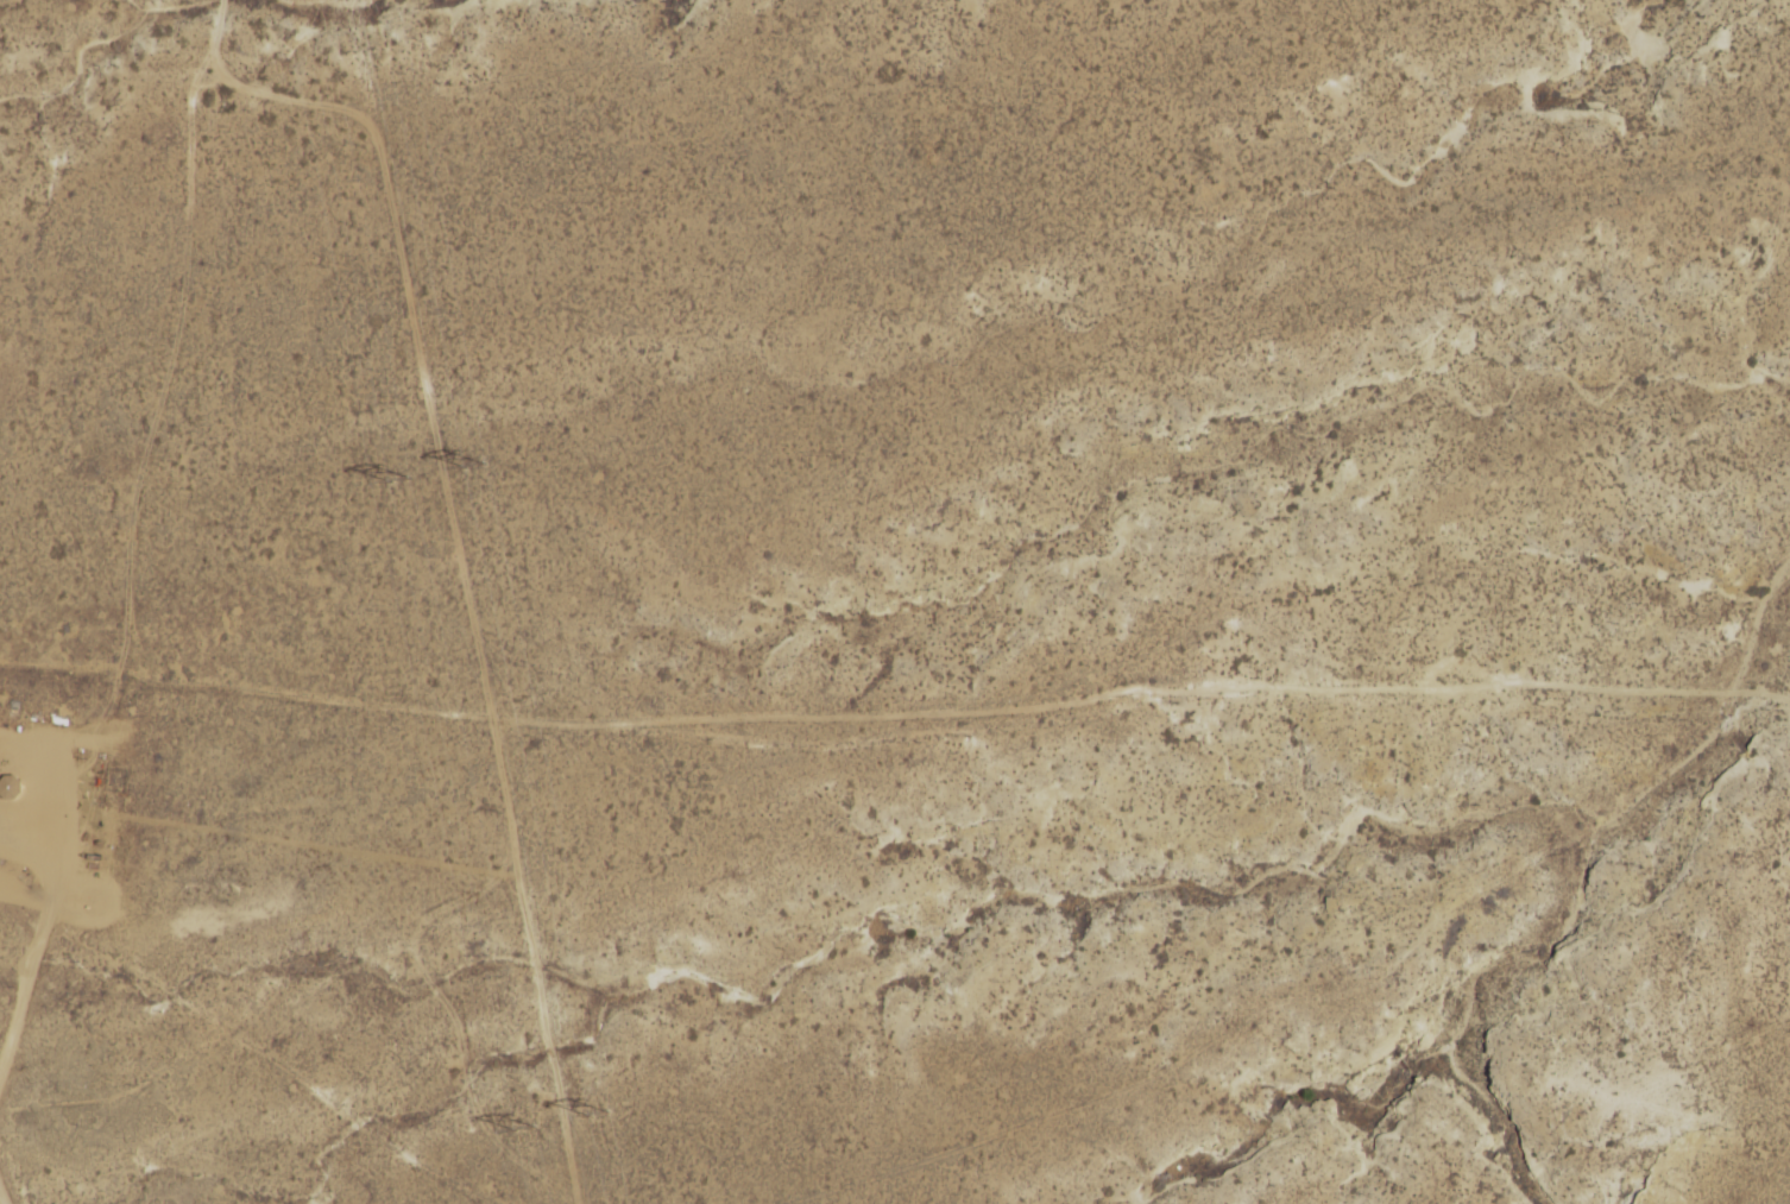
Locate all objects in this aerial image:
power tower: (473, 471)
power tower: (398, 483)
road: (43, 673)
road: (56, 820)
road: (233, 1072)
power tower: (588, 1112)
power tower: (518, 1129)

